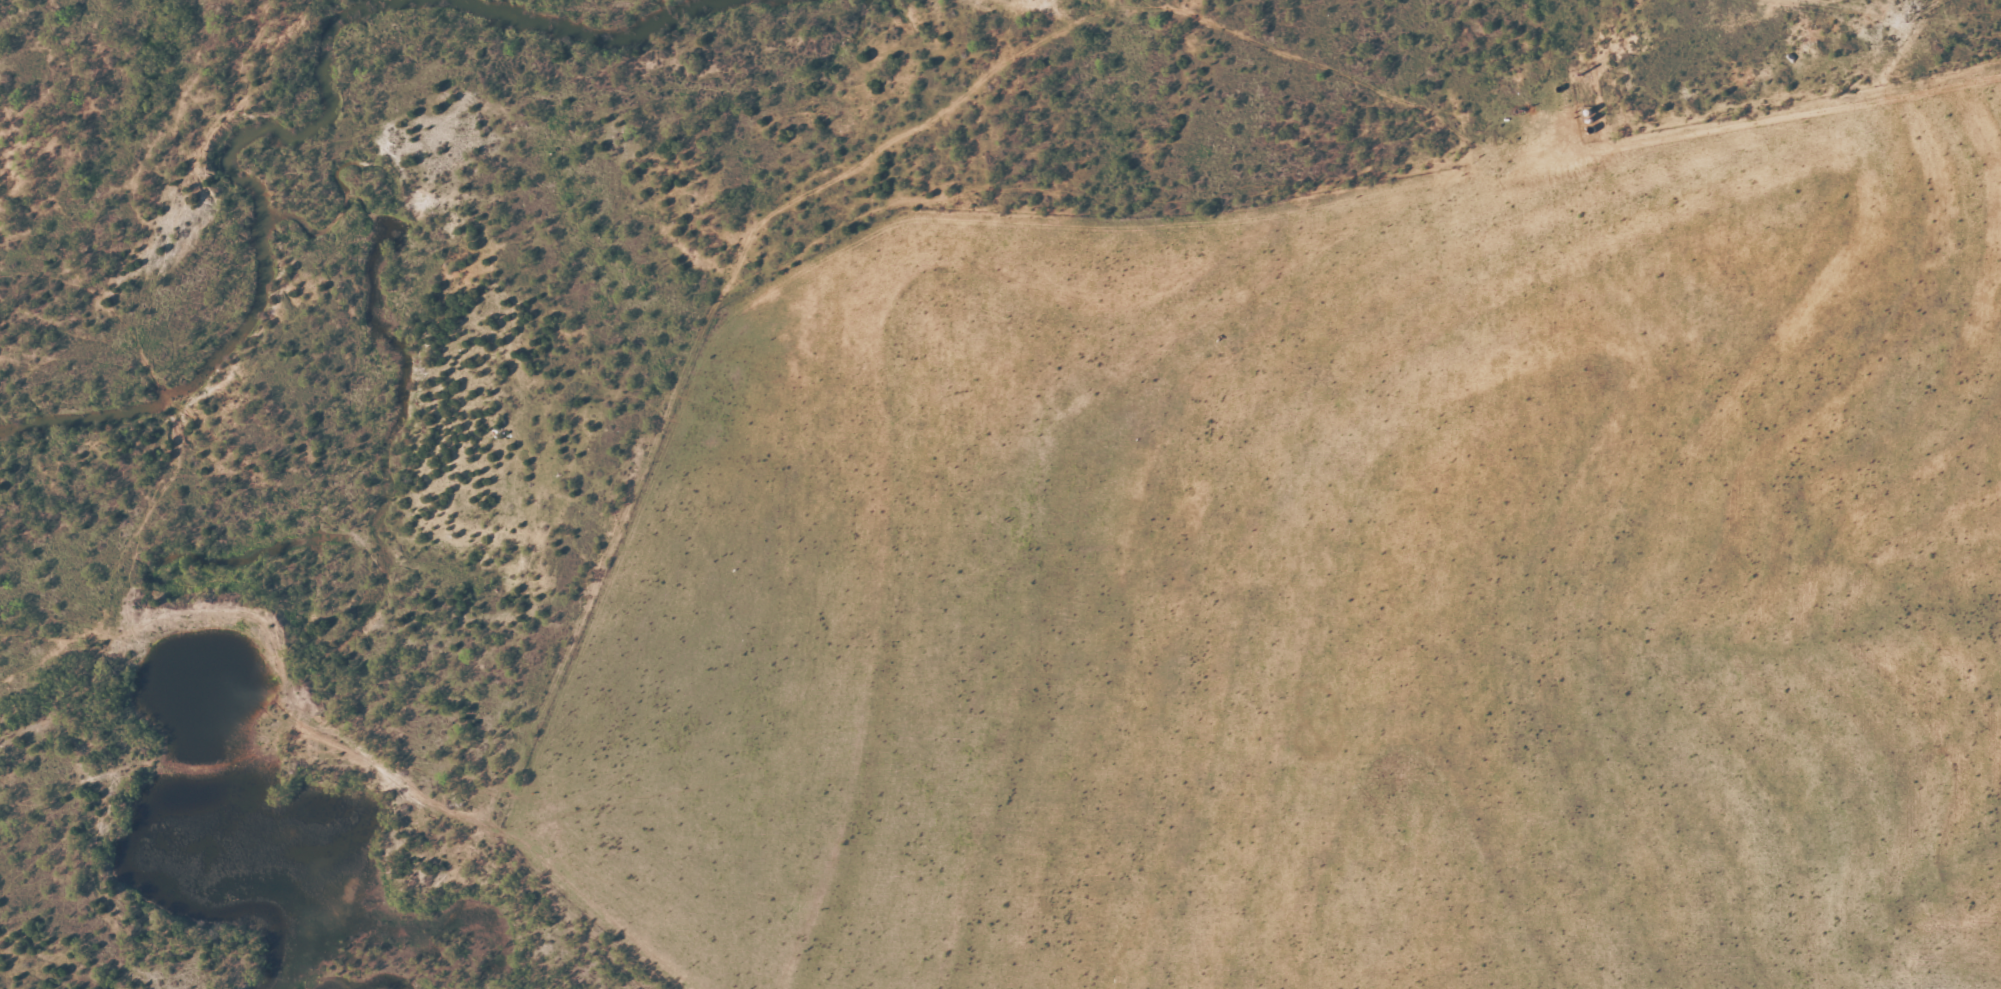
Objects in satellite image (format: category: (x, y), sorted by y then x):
power tower: (1910, 17)
petroleum well: (1517, 107)

